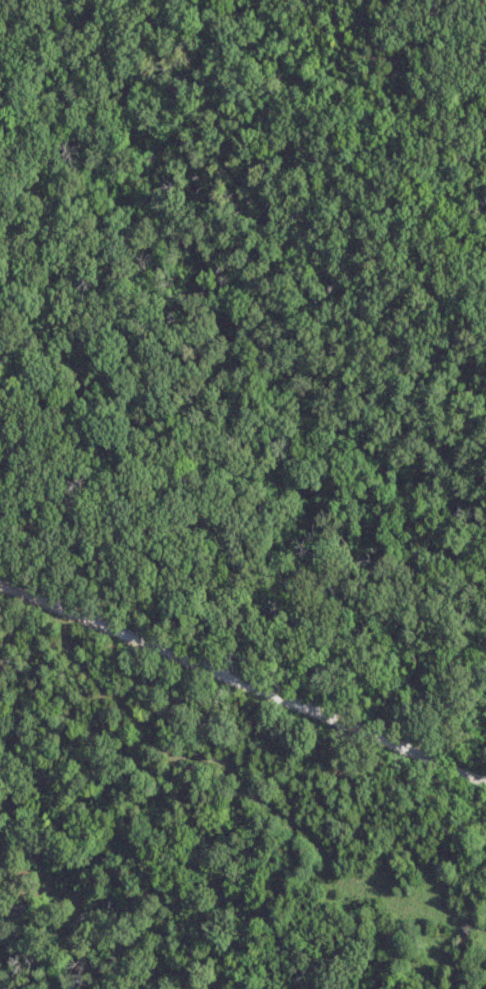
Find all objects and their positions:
road: (243, 682)

